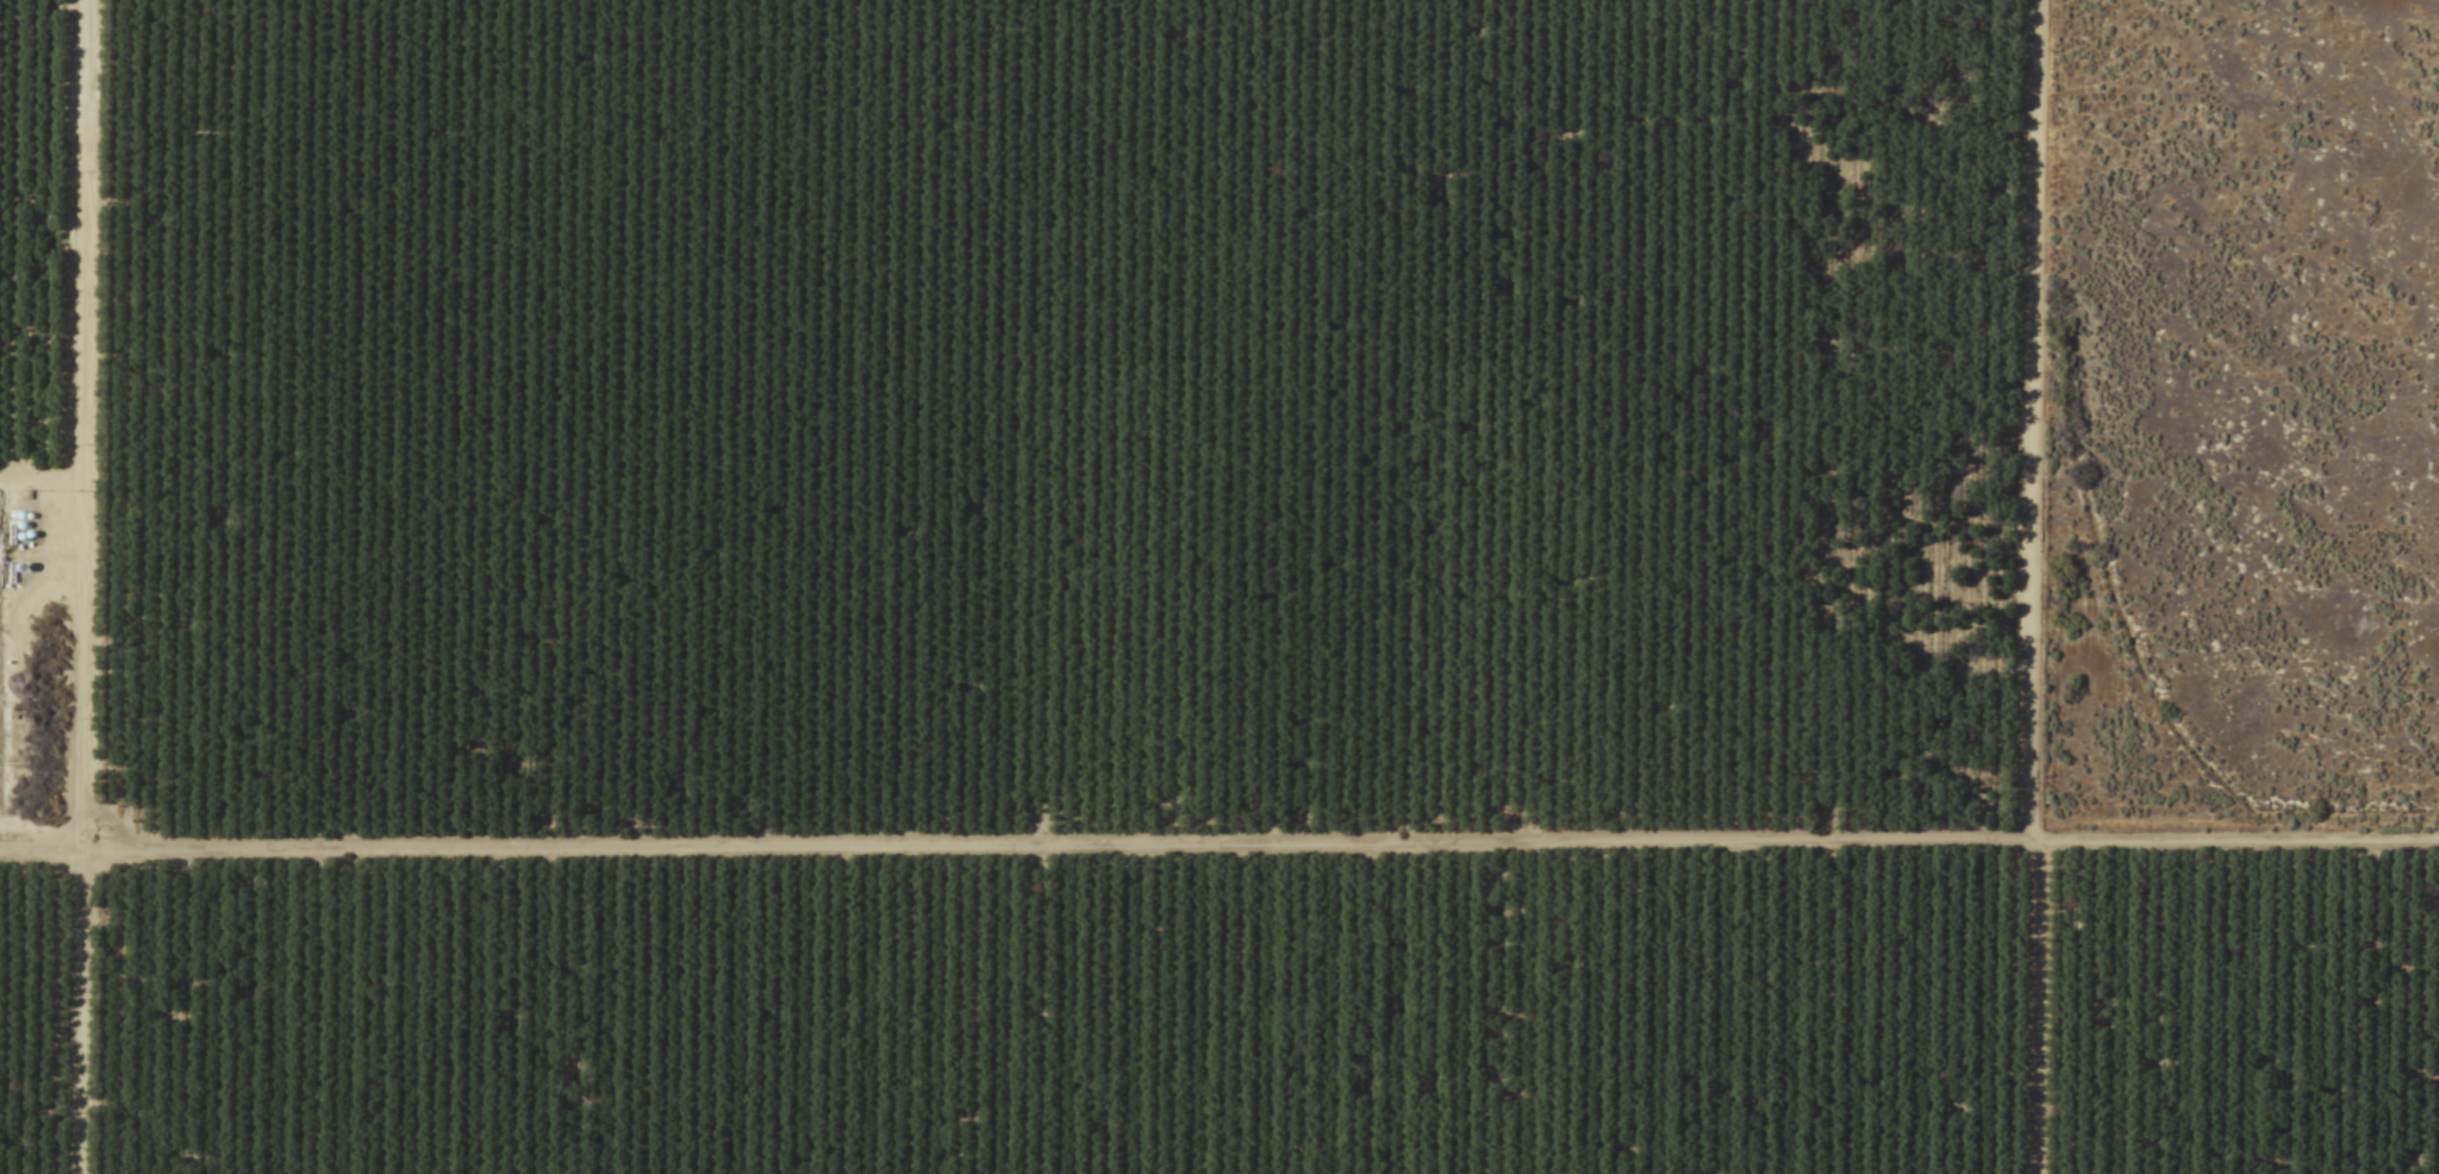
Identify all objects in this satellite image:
road: (2237, 856)

